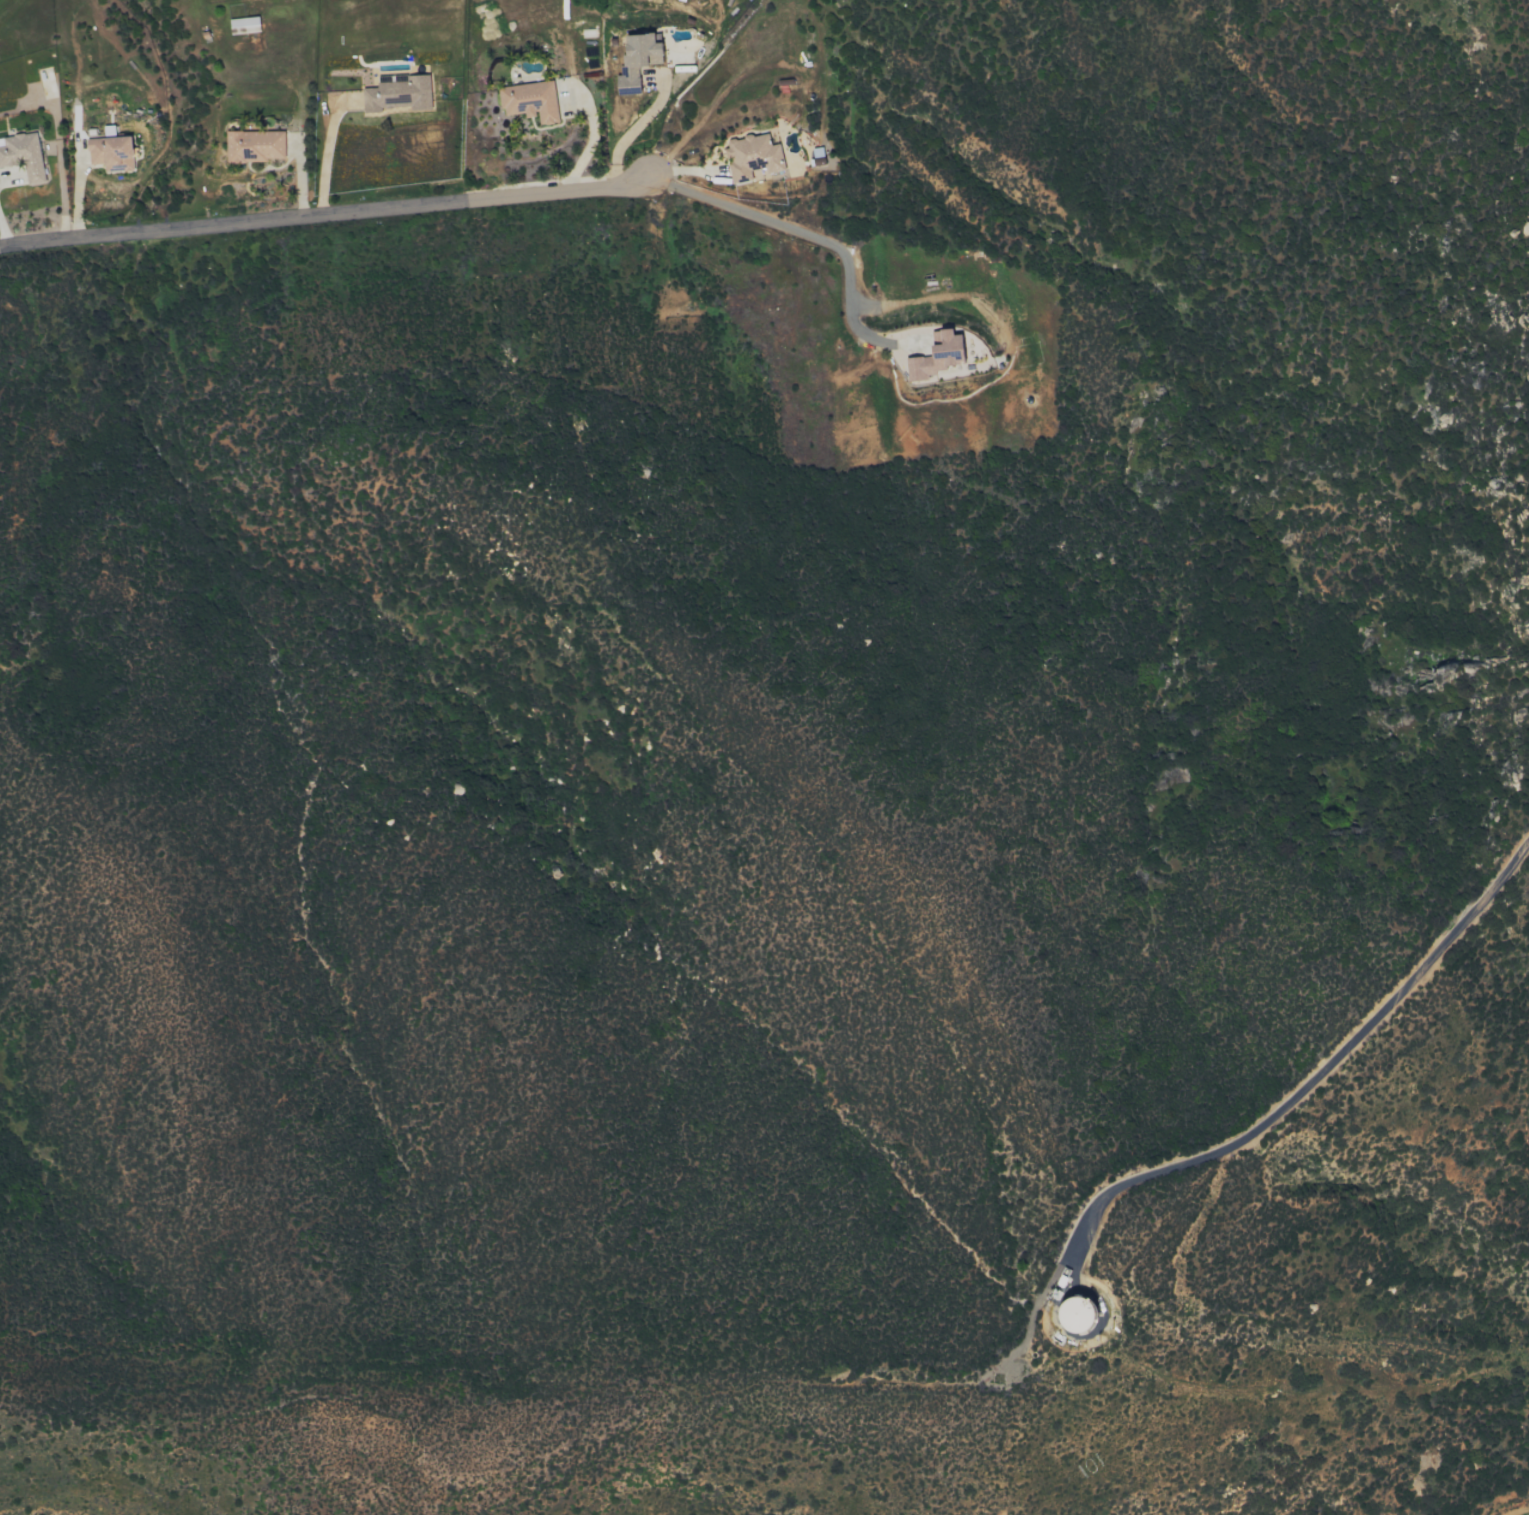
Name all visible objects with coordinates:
building: (244, 25)
building: (637, 60)
building: (398, 93)
building: (530, 101)
road: (637, 127)
road: (593, 131)
building: (111, 152)
building: (23, 155)
road: (326, 155)
building: (753, 158)
road: (307, 216)
road: (769, 220)
building: (937, 357)
building: (1077, 1313)

